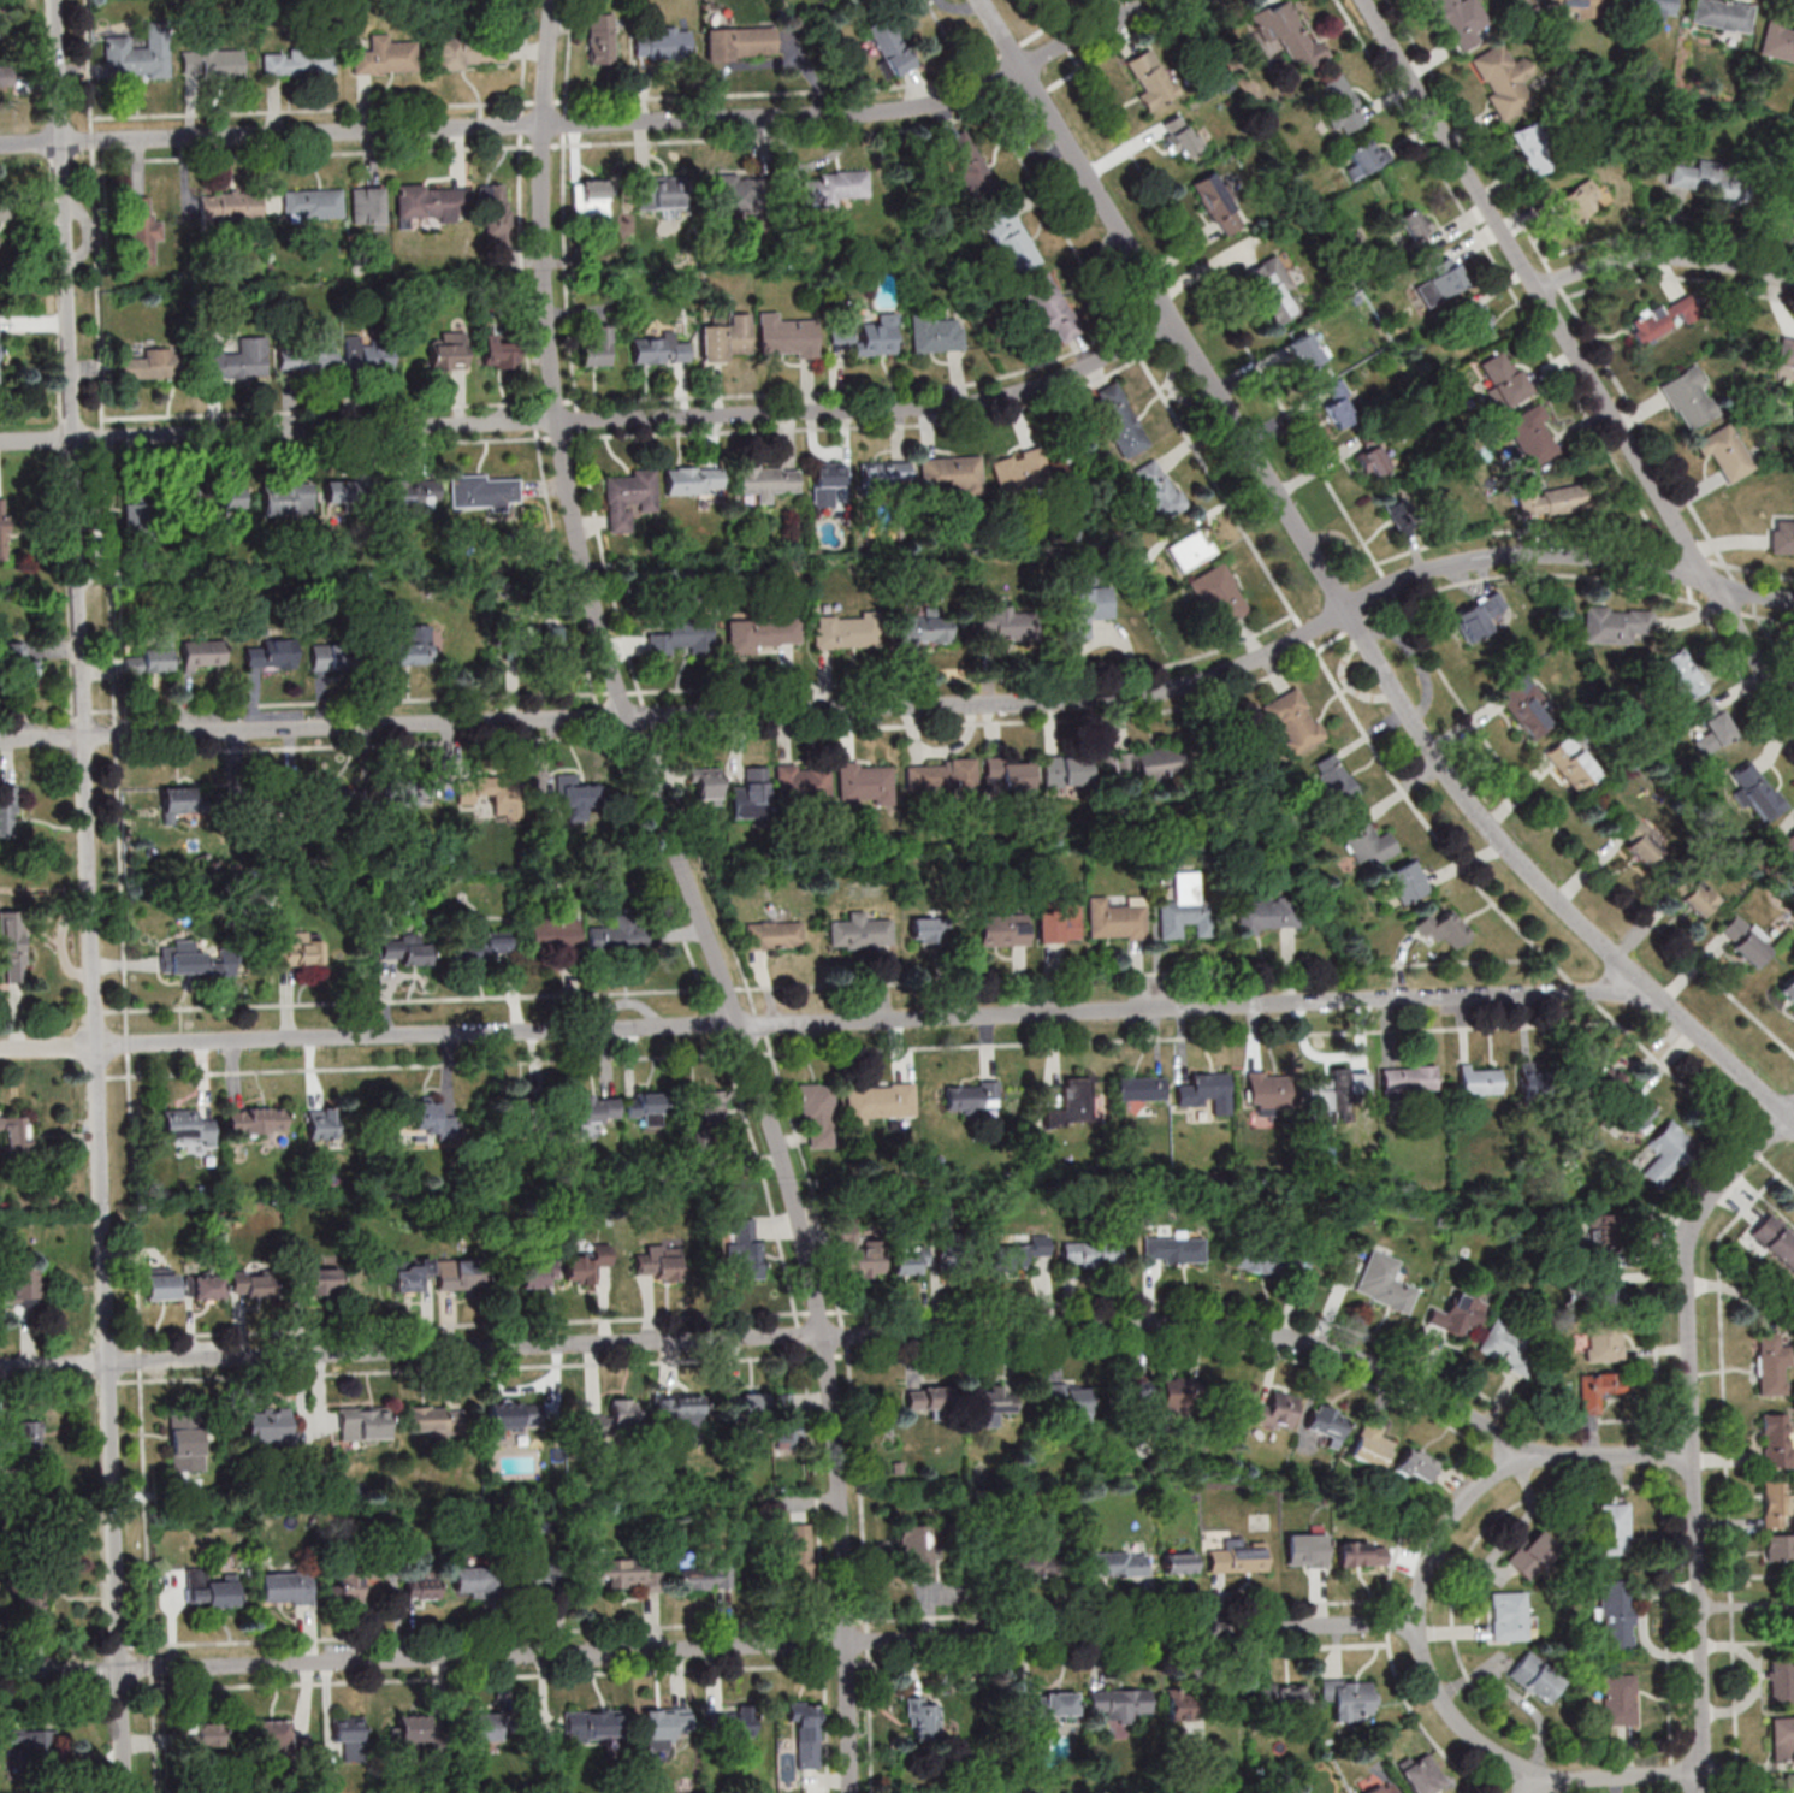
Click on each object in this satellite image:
building: (1576, 7)
building: (1648, 10)
building: (1722, 16)
building: (1462, 22)
building: (1289, 34)
building: (603, 39)
building: (1778, 41)
building: (662, 42)
building: (741, 43)
building: (890, 46)
building: (472, 53)
building: (138, 54)
building: (385, 57)
building: (212, 61)
building: (297, 61)
building: (2, 77)
building: (1151, 79)
building: (1503, 79)
building: (1338, 105)
road: (597, 125)
building: (1178, 136)
building: (1533, 148)
building: (1364, 158)
building: (966, 161)
building: (1709, 179)
building: (833, 188)
building: (728, 191)
building: (659, 193)
building: (590, 199)
building: (1577, 201)
building: (431, 202)
building: (312, 203)
building: (1218, 205)
building: (231, 206)
building: (367, 208)
building: (496, 211)
building: (1792, 212)
building: (1413, 225)
building: (142, 231)
building: (1012, 241)
road: (1663, 258)
building: (1440, 282)
building: (1272, 290)
building: (1049, 308)
building: (1653, 320)
building: (1469, 322)
building: (936, 335)
building: (869, 336)
building: (787, 337)
building: (727, 338)
building: (598, 348)
building: (661, 350)
building: (449, 351)
building: (1304, 351)
building: (499, 353)
building: (1786, 353)
building: (368, 354)
building: (307, 356)
building: (239, 360)
road: (1577, 360)
building: (148, 365)
building: (1502, 378)
building: (1688, 398)
building: (1339, 406)
building: (1119, 420)
road: (596, 422)
building: (1532, 437)
building: (1725, 454)
building: (1370, 460)
building: (1019, 468)
building: (951, 477)
building: (884, 479)
building: (693, 480)
building: (766, 480)
building: (827, 484)
building: (1154, 490)
building: (348, 491)
building: (485, 491)
building: (414, 492)
building: (224, 498)
building: (288, 498)
building: (627, 499)
building: (1550, 501)
building: (136, 526)
building: (2, 528)
building: (1782, 537)
building: (1190, 550)
road: (1372, 560)
building: (1218, 596)
road: (1338, 598)
road: (1287, 608)
building: (1087, 609)
building: (1476, 617)
building: (1005, 625)
building: (1617, 625)
building: (923, 628)
building: (845, 631)
building: (759, 633)
building: (682, 637)
building: (552, 638)
building: (412, 645)
building: (203, 653)
building: (270, 653)
building: (26, 656)
building: (330, 656)
building: (152, 657)
building: (1681, 674)
road: (913, 708)
building: (1522, 709)
building: (1292, 720)
building: (1710, 726)
building: (1574, 763)
building: (1147, 767)
building: (1005, 773)
building: (1066, 773)
building: (1333, 777)
building: (940, 779)
building: (864, 781)
building: (706, 783)
building: (801, 787)
building: (408, 792)
building: (1755, 792)
building: (497, 794)
building: (750, 794)
building: (578, 797)
building: (179, 800)
building: (337, 801)
building: (6, 812)
building: (1641, 838)
building: (1364, 841)
building: (1789, 841)
road: (1464, 862)
building: (1407, 881)
road: (90, 895)
road: (693, 895)
building: (1694, 895)
building: (1186, 905)
building: (1266, 915)
building: (1117, 916)
building: (1056, 922)
building: (1001, 923)
building: (934, 928)
building: (1444, 928)
building: (858, 929)
building: (553, 931)
building: (623, 933)
building: (771, 934)
building: (1746, 940)
building: (12, 947)
building: (480, 947)
building: (298, 952)
building: (404, 953)
building: (182, 958)
building: (1788, 988)
road: (824, 1020)
building: (1409, 1078)
building: (1533, 1078)
building: (1480, 1079)
building: (1605, 1079)
building: (1141, 1088)
building: (1333, 1088)
building: (1207, 1090)
building: (1262, 1091)
building: (972, 1097)
building: (881, 1101)
building: (710, 1103)
building: (1072, 1103)
building: (526, 1106)
building: (646, 1106)
building: (596, 1107)
building: (818, 1111)
building: (1636, 1113)
building: (257, 1118)
building: (426, 1122)
building: (322, 1123)
building: (188, 1124)
building: (14, 1134)
road: (1753, 1149)
building: (1666, 1153)
road: (1777, 1171)
building: (1603, 1231)
building: (1776, 1238)
building: (744, 1249)
building: (1174, 1249)
building: (859, 1250)
building: (1022, 1253)
building: (1091, 1253)
building: (1272, 1259)
building: (910, 1260)
building: (663, 1261)
building: (586, 1262)
building: (539, 1272)
building: (410, 1273)
building: (461, 1273)
building: (316, 1277)
building: (161, 1282)
building: (251, 1283)
building: (1384, 1283)
building: (207, 1285)
building: (18, 1286)
building: (1601, 1295)
building: (1457, 1314)
road: (777, 1335)
building: (1604, 1343)
building: (1505, 1347)
building: (1772, 1363)
building: (1598, 1390)
building: (1132, 1393)
building: (1184, 1395)
building: (930, 1398)
building: (1070, 1401)
building: (996, 1404)
building: (748, 1406)
building: (677, 1410)
building: (1278, 1410)
building: (514, 1416)
building: (787, 1418)
building: (615, 1420)
building: (436, 1421)
building: (270, 1422)
road: (1694, 1422)
building: (365, 1424)
building: (1326, 1424)
road: (312, 1432)
building: (22, 1436)
building: (186, 1442)
building: (1776, 1442)
building: (1369, 1444)
building: (1419, 1463)
road: (1725, 1471)
building: (1776, 1502)
building: (1612, 1528)
building: (1780, 1546)
building: (918, 1550)
building: (1307, 1550)
building: (798, 1552)
building: (1362, 1554)
building: (1533, 1554)
building: (1239, 1556)
building: (1179, 1562)
building: (1117, 1563)
building: (1034, 1564)
building: (699, 1573)
building: (538, 1574)
building: (628, 1574)
road: (1762, 1576)
building: (354, 1580)
building: (476, 1580)
building: (424, 1584)
building: (211, 1587)
building: (288, 1587)
building: (31, 1596)
building: (1615, 1615)
building: (1511, 1617)
road: (1414, 1621)
road: (1747, 1641)
road: (706, 1650)
building: (1535, 1676)
building: (1781, 1681)
building: (1280, 1696)
building: (1350, 1699)
building: (1618, 1699)
building: (1052, 1704)
building: (1120, 1704)
building: (1183, 1705)
building: (665, 1721)
building: (925, 1722)
building: (593, 1723)
building: (730, 1723)
building: (487, 1726)
building: (420, 1732)
building: (805, 1732)
building: (206, 1734)
building: (349, 1736)
building: (282, 1739)
building: (1782, 1739)
building: (34, 1750)
building: (1421, 1774)
road: (1706, 1783)
building: (1789, 1783)
road: (1544, 1787)
building: (1382, 1788)

